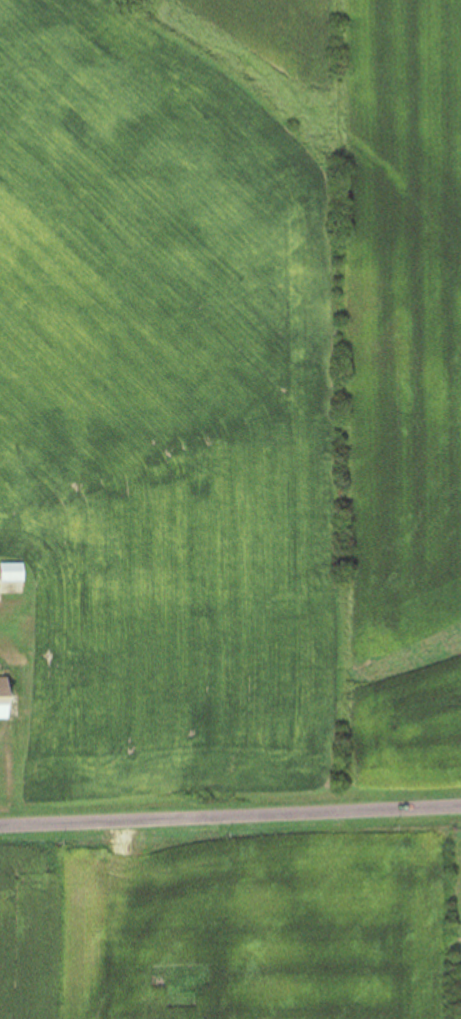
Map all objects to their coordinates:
building: (14, 573)
building: (6, 699)
road: (230, 815)

